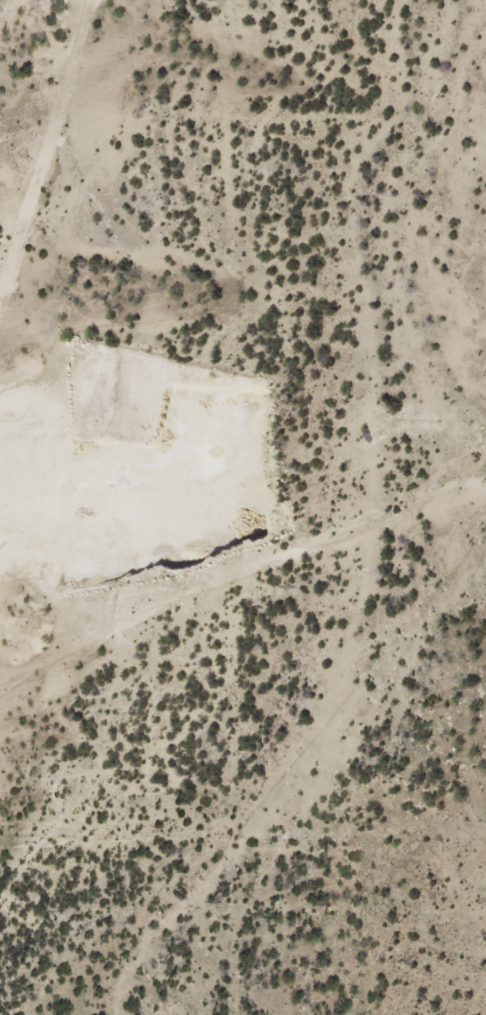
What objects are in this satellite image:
road: (47, 87)

